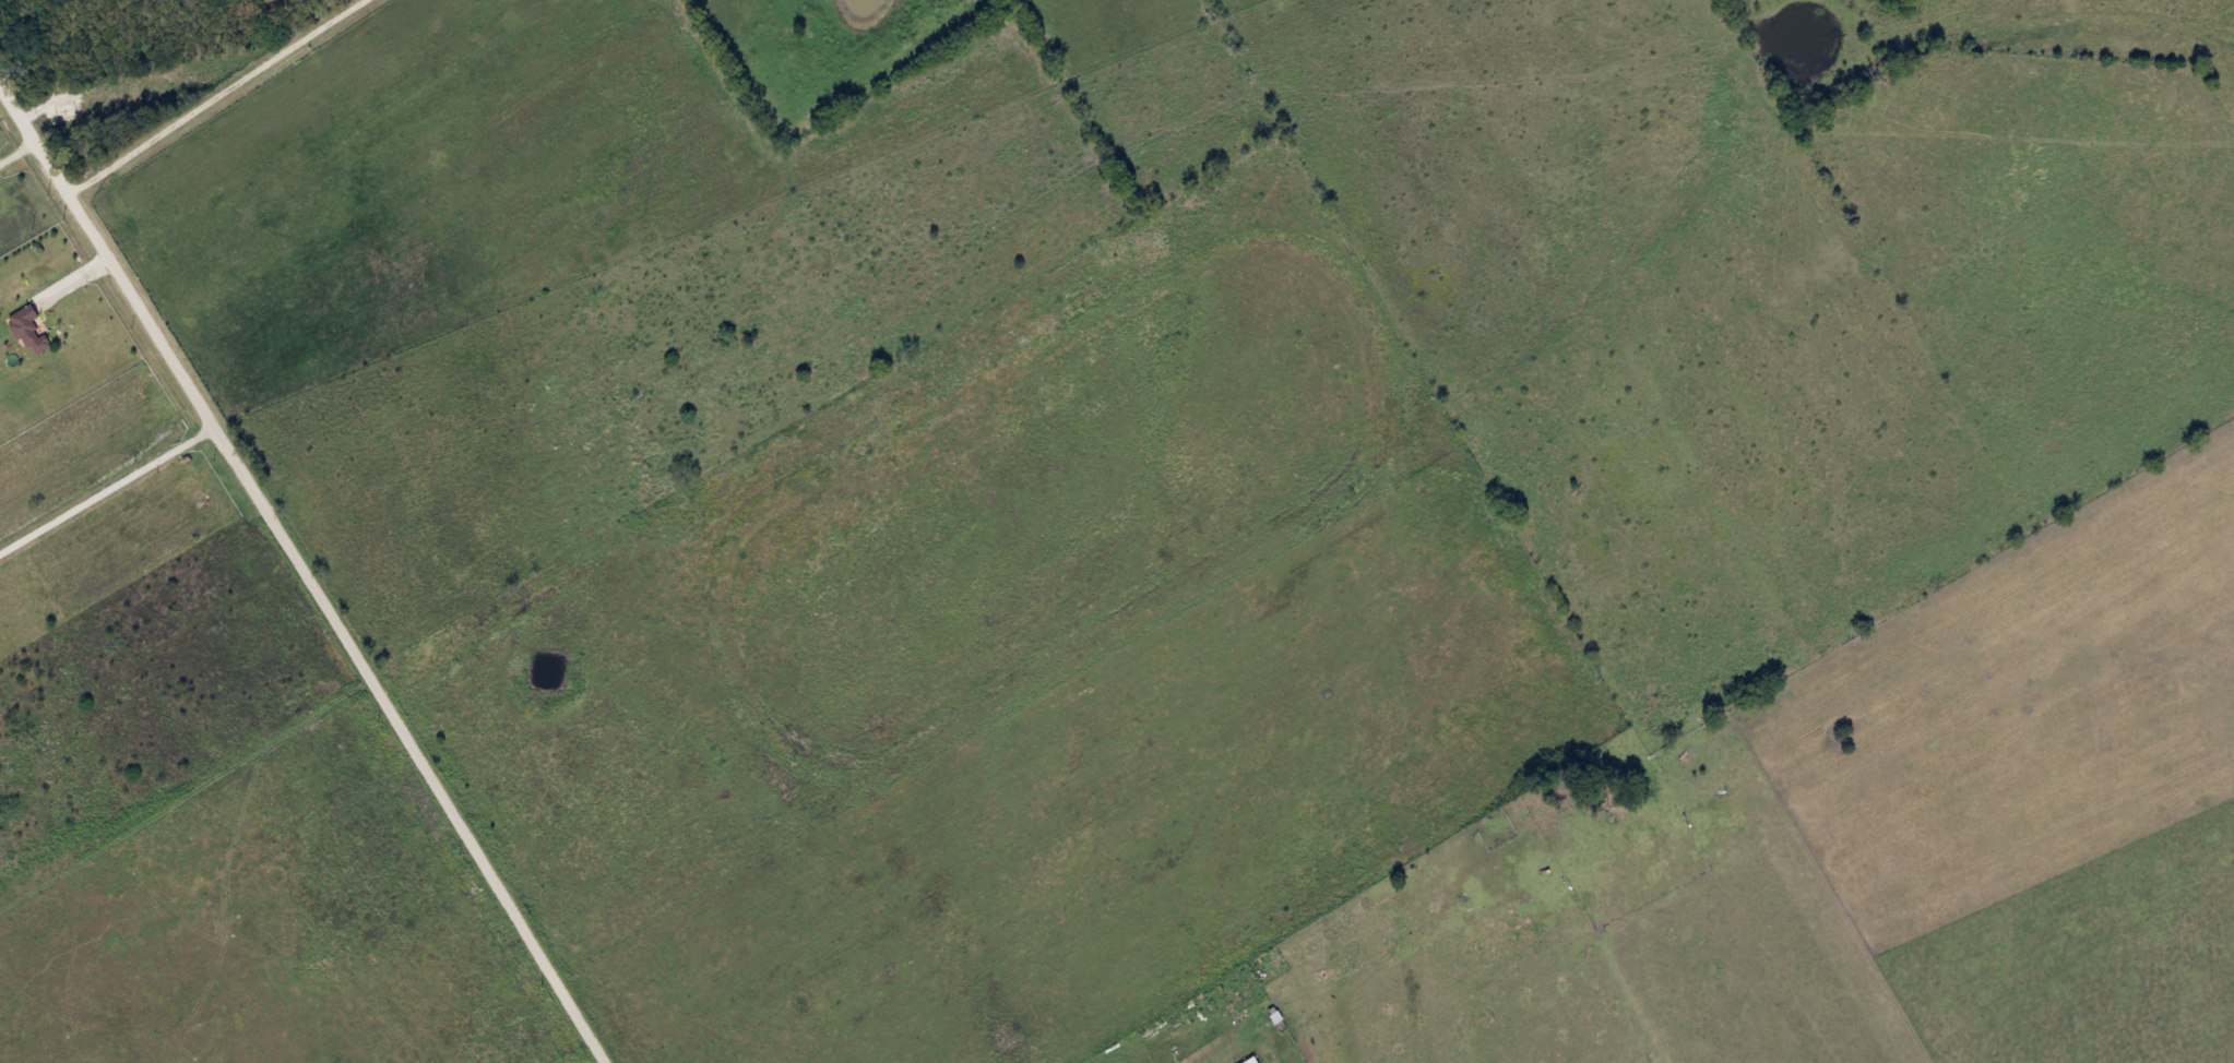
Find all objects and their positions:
road: (216, 98)
building: (25, 331)
road: (305, 573)

